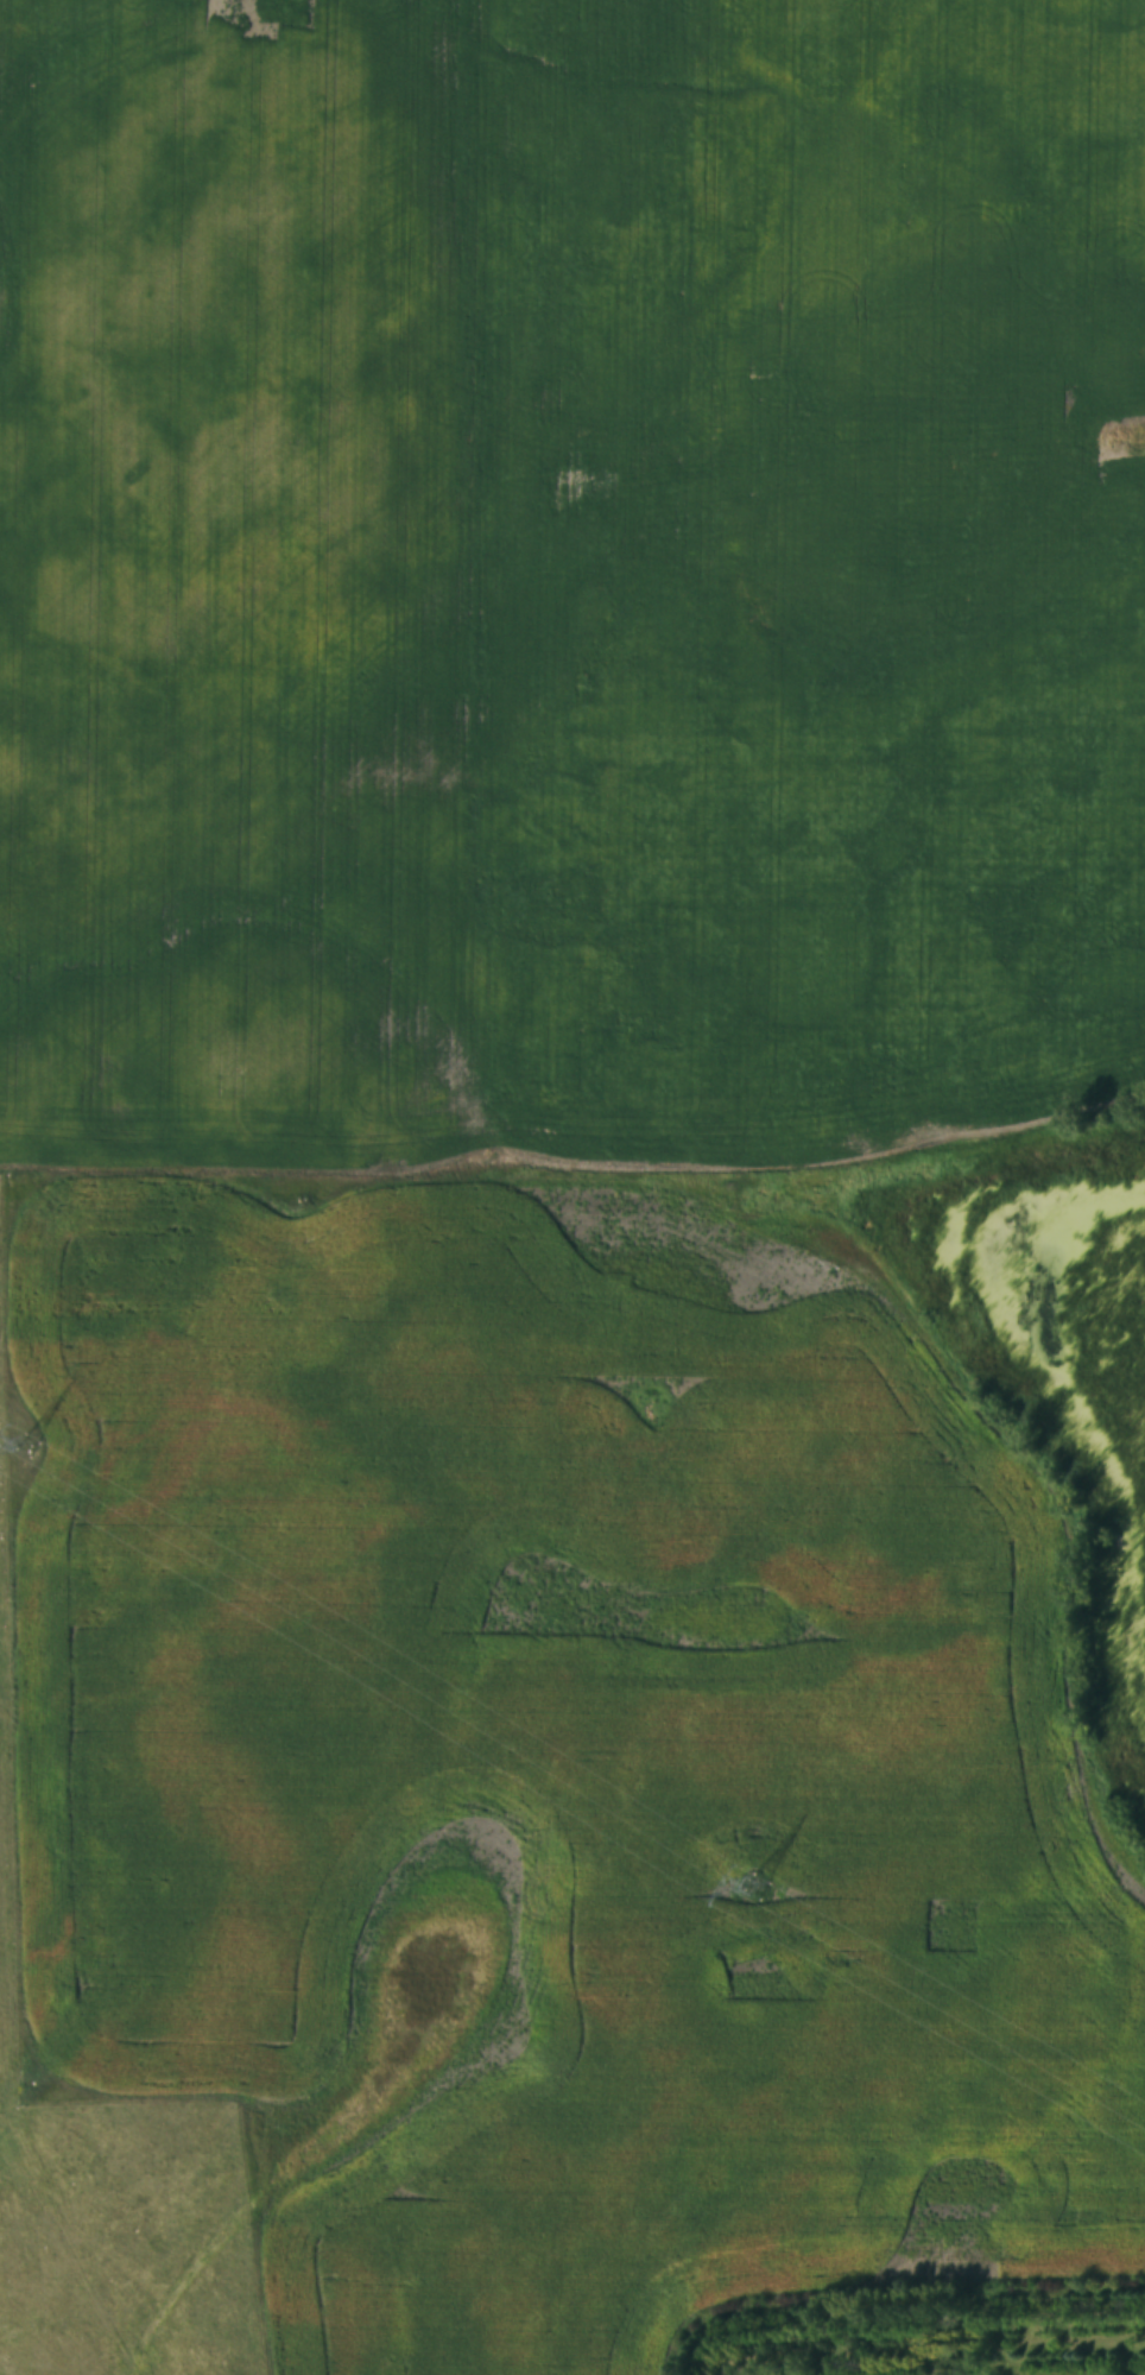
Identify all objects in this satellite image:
power tower: (34, 1428)
power tower: (754, 1883)

